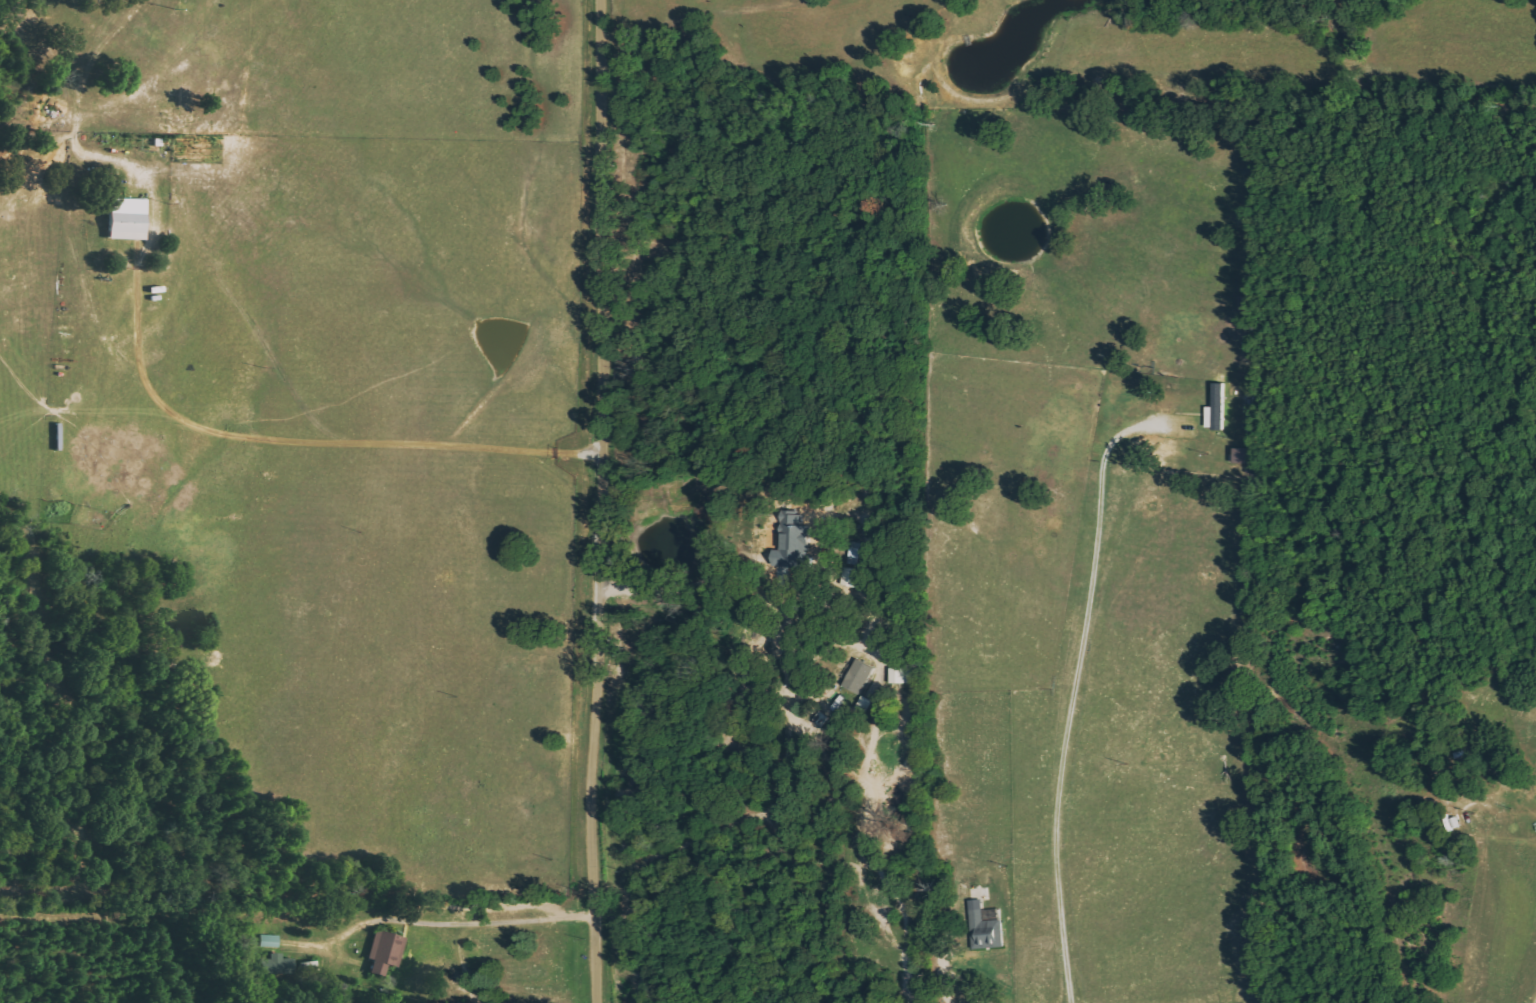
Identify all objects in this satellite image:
building: (125, 219)
building: (1215, 408)
road: (595, 501)
building: (796, 540)
building: (901, 675)
building: (857, 676)
building: (983, 928)
building: (269, 941)
building: (384, 952)
building: (286, 967)

